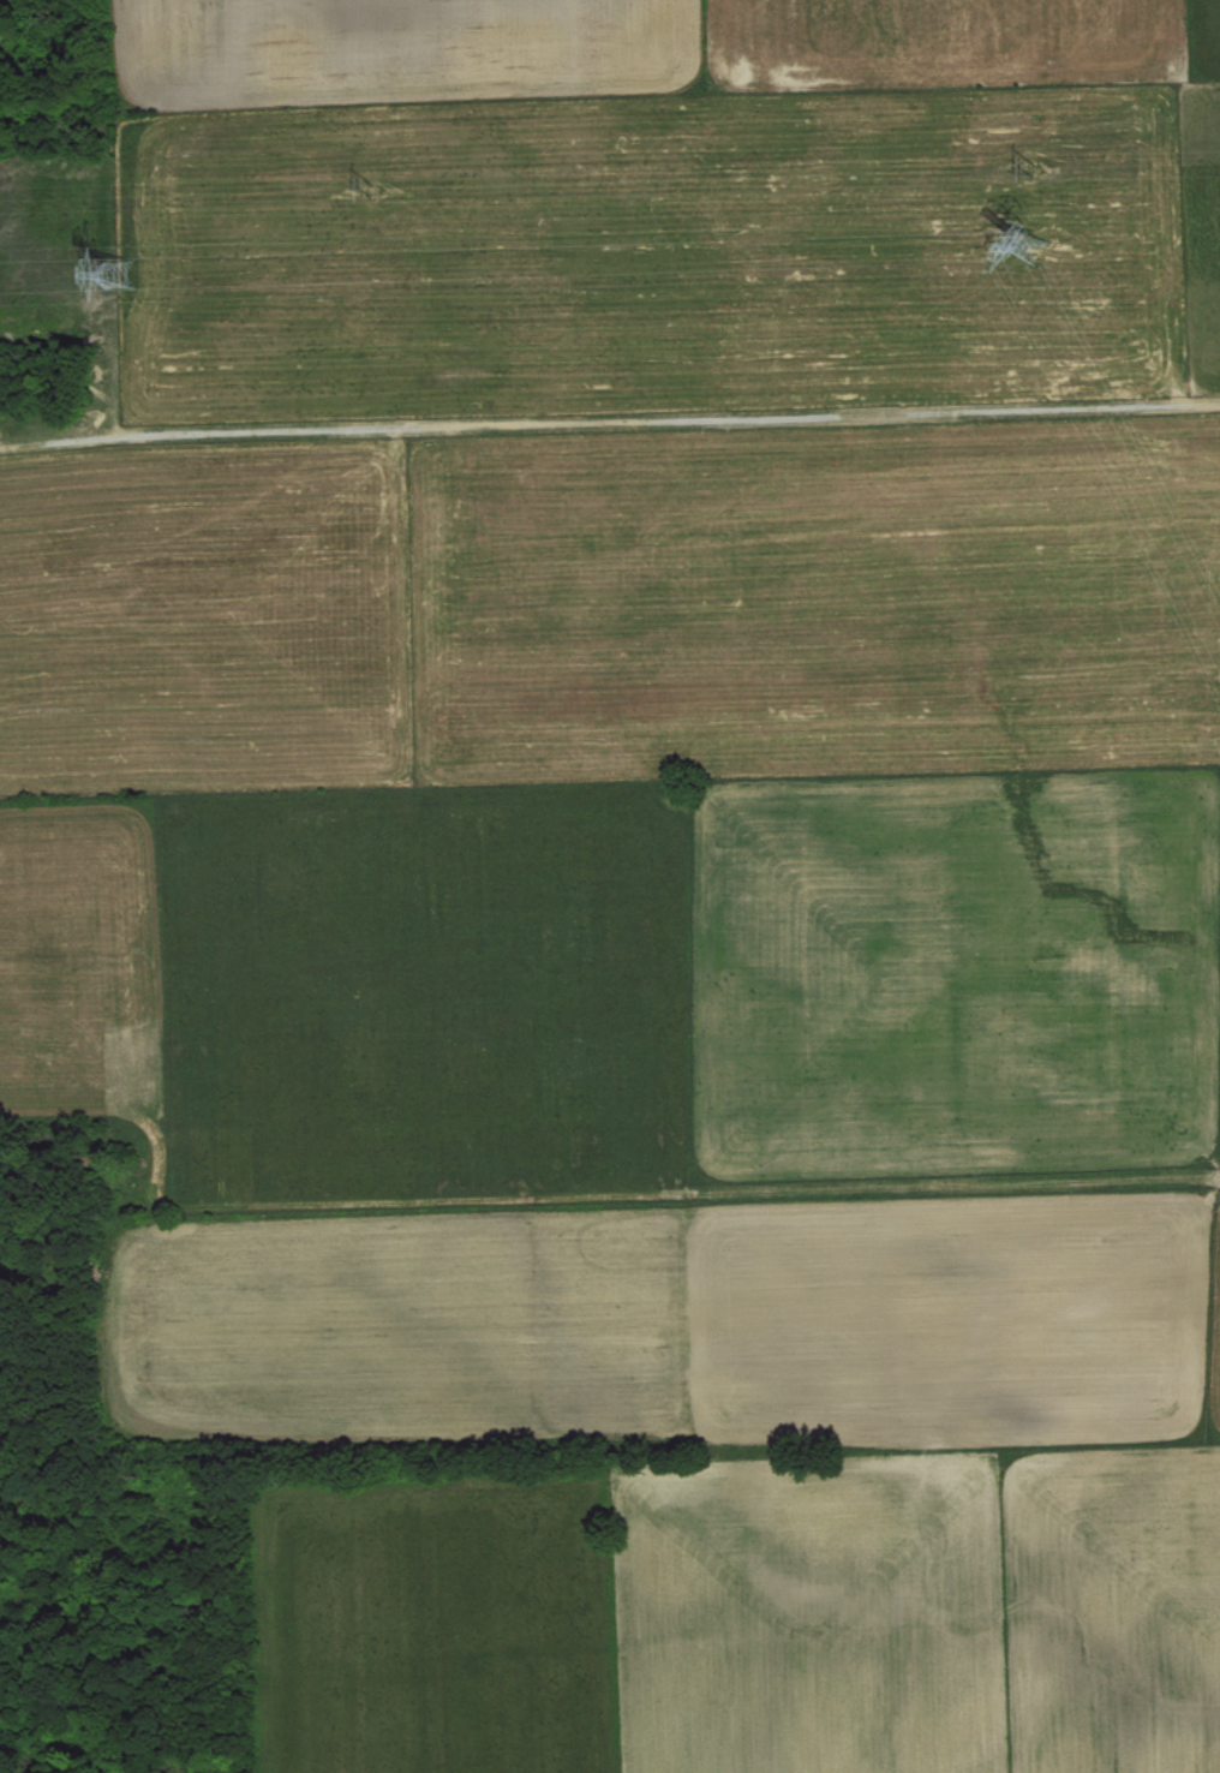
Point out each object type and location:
power tower: (1033, 165)
power tower: (375, 185)
power tower: (1036, 241)
power tower: (125, 268)

